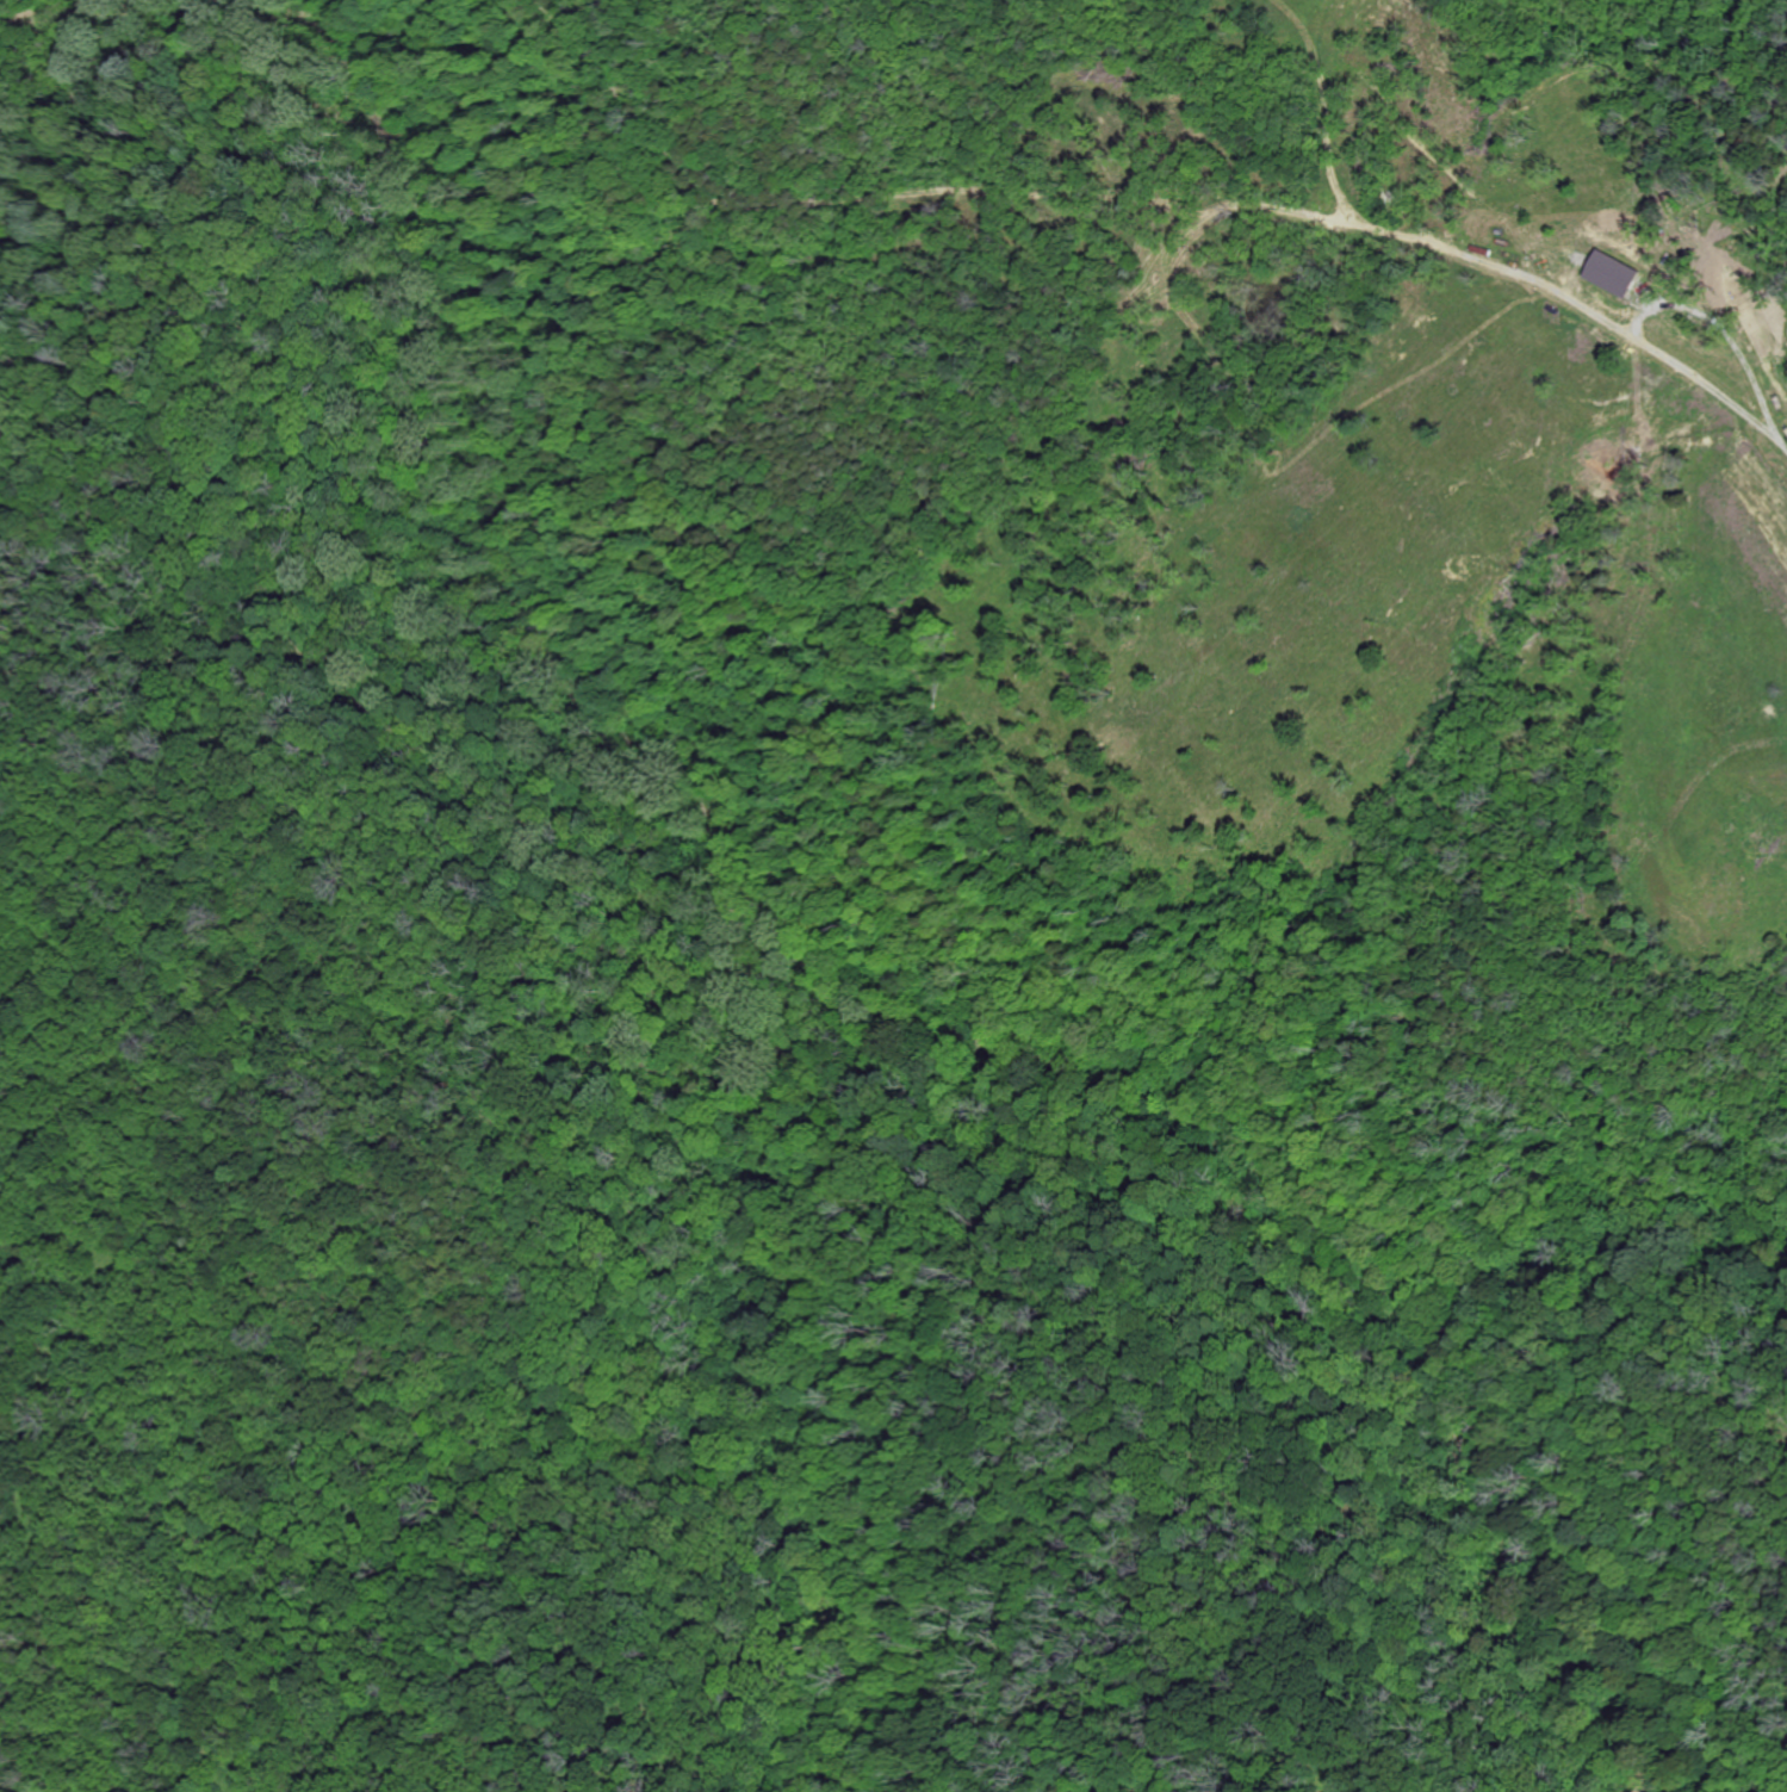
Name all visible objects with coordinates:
road: (832, 198)
road: (1216, 209)
road: (1400, 231)
building: (1609, 272)
road: (1648, 310)

